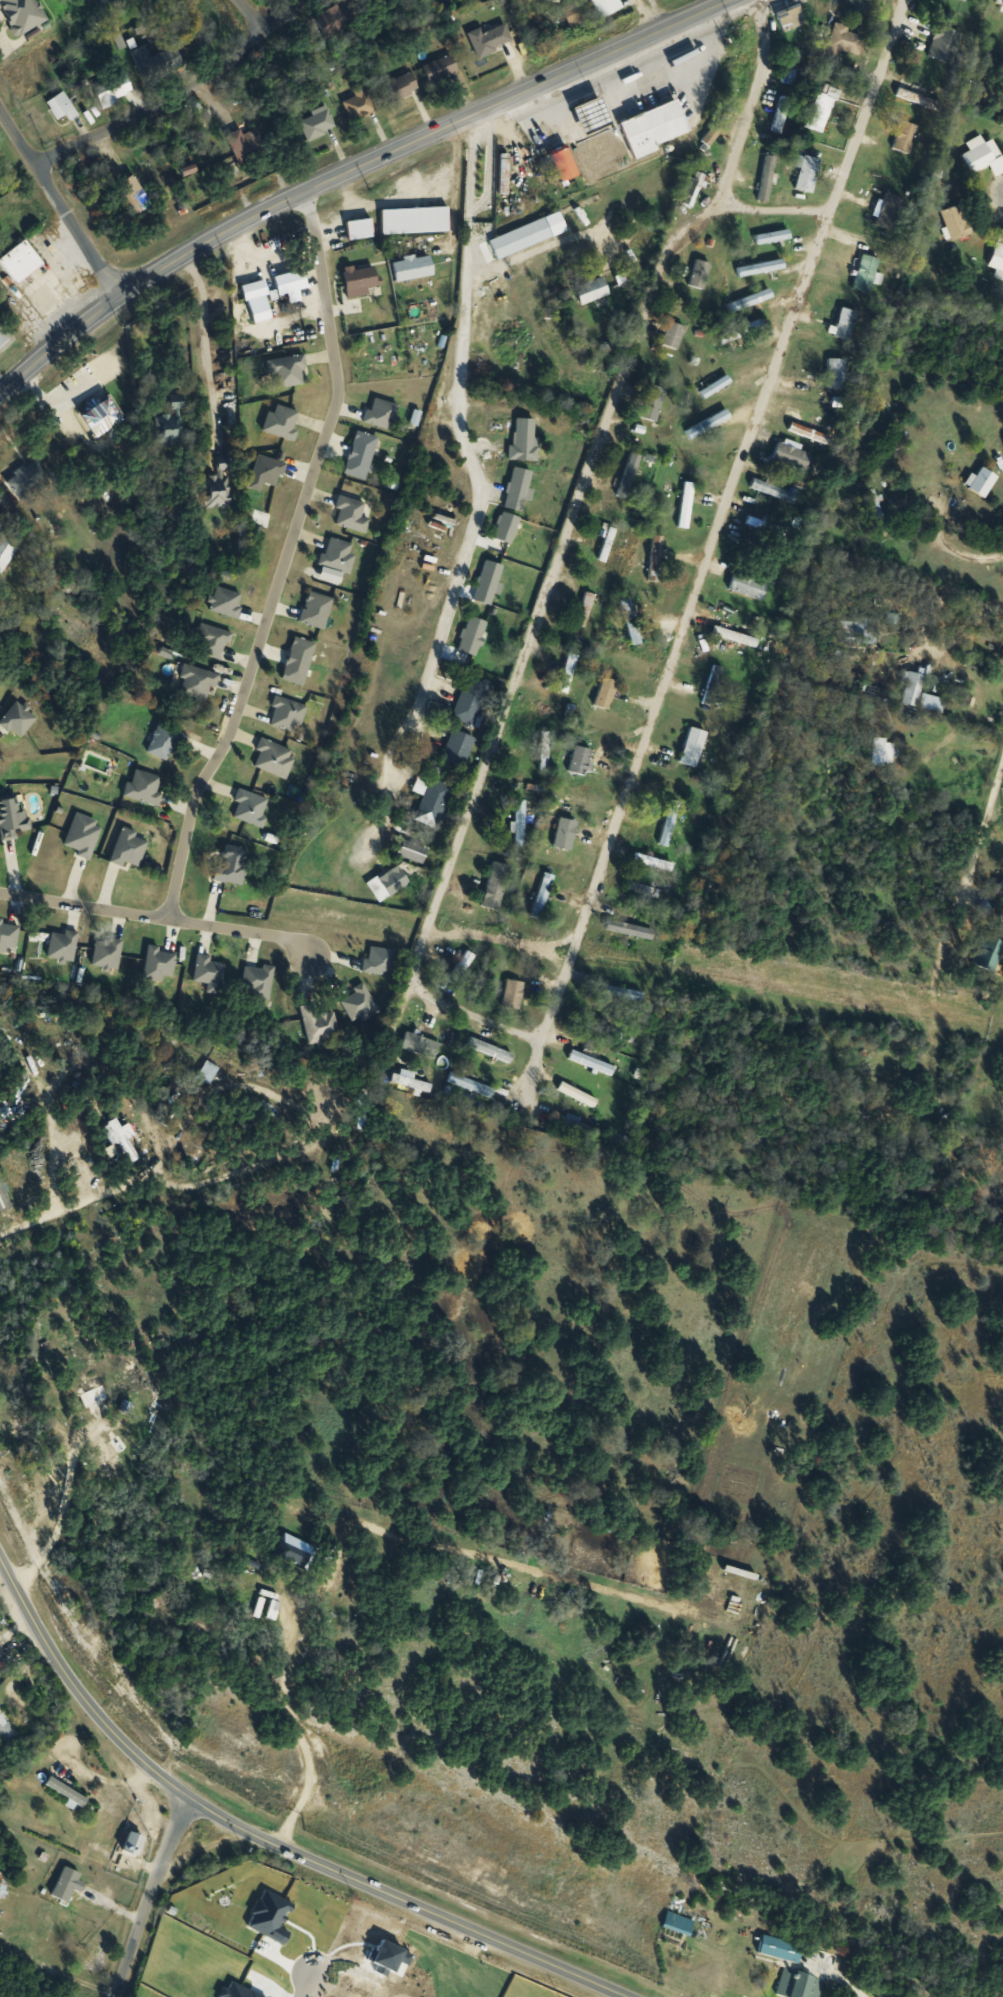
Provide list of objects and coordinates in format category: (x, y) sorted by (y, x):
building: (966, 0)
building: (608, 7)
road: (257, 12)
building: (24, 14)
building: (575, 14)
road: (643, 17)
building: (792, 18)
building: (337, 19)
building: (492, 40)
building: (838, 44)
building: (946, 44)
building: (742, 60)
building: (158, 62)
building: (794, 67)
building: (424, 77)
building: (113, 92)
road: (173, 95)
building: (917, 98)
building: (361, 105)
building: (61, 107)
building: (821, 112)
building: (782, 114)
building: (319, 123)
building: (655, 128)
building: (906, 140)
building: (249, 145)
building: (982, 154)
building: (566, 163)
road: (349, 170)
building: (809, 174)
building: (767, 178)
building: (695, 189)
building: (137, 194)
road: (57, 206)
road: (774, 213)
building: (957, 222)
building: (529, 235)
building: (773, 237)
road: (534, 250)
building: (998, 254)
road: (252, 256)
building: (21, 262)
road: (245, 264)
building: (761, 266)
building: (414, 267)
building: (701, 274)
building: (867, 274)
building: (362, 281)
building: (594, 291)
building: (750, 301)
building: (847, 324)
building: (742, 331)
road: (203, 333)
building: (674, 335)
building: (3, 340)
building: (288, 371)
building: (837, 373)
building: (569, 375)
building: (716, 387)
building: (178, 402)
building: (654, 403)
building: (382, 413)
building: (282, 422)
building: (709, 424)
building: (168, 429)
building: (809, 432)
building: (362, 454)
building: (792, 455)
building: (534, 458)
building: (269, 470)
building: (630, 476)
building: (30, 479)
road: (478, 481)
building: (219, 486)
building: (775, 490)
building: (689, 497)
road: (581, 500)
building: (876, 508)
building: (532, 509)
building: (352, 514)
building: (526, 539)
building: (607, 545)
road: (950, 547)
road: (713, 549)
building: (339, 555)
building: (655, 558)
road: (285, 560)
building: (507, 584)
building: (749, 586)
building: (226, 602)
road: (994, 606)
building: (317, 610)
building: (585, 610)
building: (630, 622)
building: (486, 628)
building: (857, 630)
road: (929, 631)
building: (736, 636)
building: (213, 642)
building: (300, 661)
building: (568, 673)
building: (199, 682)
building: (714, 686)
building: (607, 693)
building: (919, 694)
building: (471, 701)
building: (287, 715)
building: (20, 720)
building: (166, 743)
building: (694, 747)
building: (458, 748)
building: (544, 751)
building: (274, 758)
building: (580, 760)
building: (145, 788)
building: (431, 800)
building: (251, 808)
building: (13, 820)
building: (520, 823)
building: (670, 823)
road: (983, 827)
building: (566, 834)
building: (84, 835)
building: (130, 849)
building: (413, 852)
building: (650, 861)
building: (233, 865)
building: (389, 883)
building: (1001, 886)
building: (496, 887)
building: (645, 889)
building: (542, 896)
road: (156, 916)
building: (625, 929)
building: (9, 937)
road: (502, 938)
building: (64, 946)
building: (108, 953)
building: (380, 961)
building: (160, 965)
building: (462, 968)
building: (210, 973)
building: (259, 979)
building: (514, 995)
building: (361, 1005)
road: (473, 1017)
building: (320, 1024)
building: (421, 1045)
building: (490, 1050)
building: (592, 1062)
building: (472, 1085)
building: (566, 1121)
building: (125, 1139)
road: (65, 1205)
building: (104, 1244)
building: (42, 1354)
building: (98, 1393)
building: (116, 1459)
road: (351, 1521)
building: (275, 1610)
building: (207, 1623)
road: (19, 1624)
building: (4, 1665)
building: (5, 1730)
road: (104, 1778)
road: (264, 1832)
building: (135, 1843)
building: (68, 1885)
road: (155, 1895)
building: (680, 1923)
building: (784, 1948)
road: (461, 1962)
road: (306, 1981)
building: (801, 1984)

